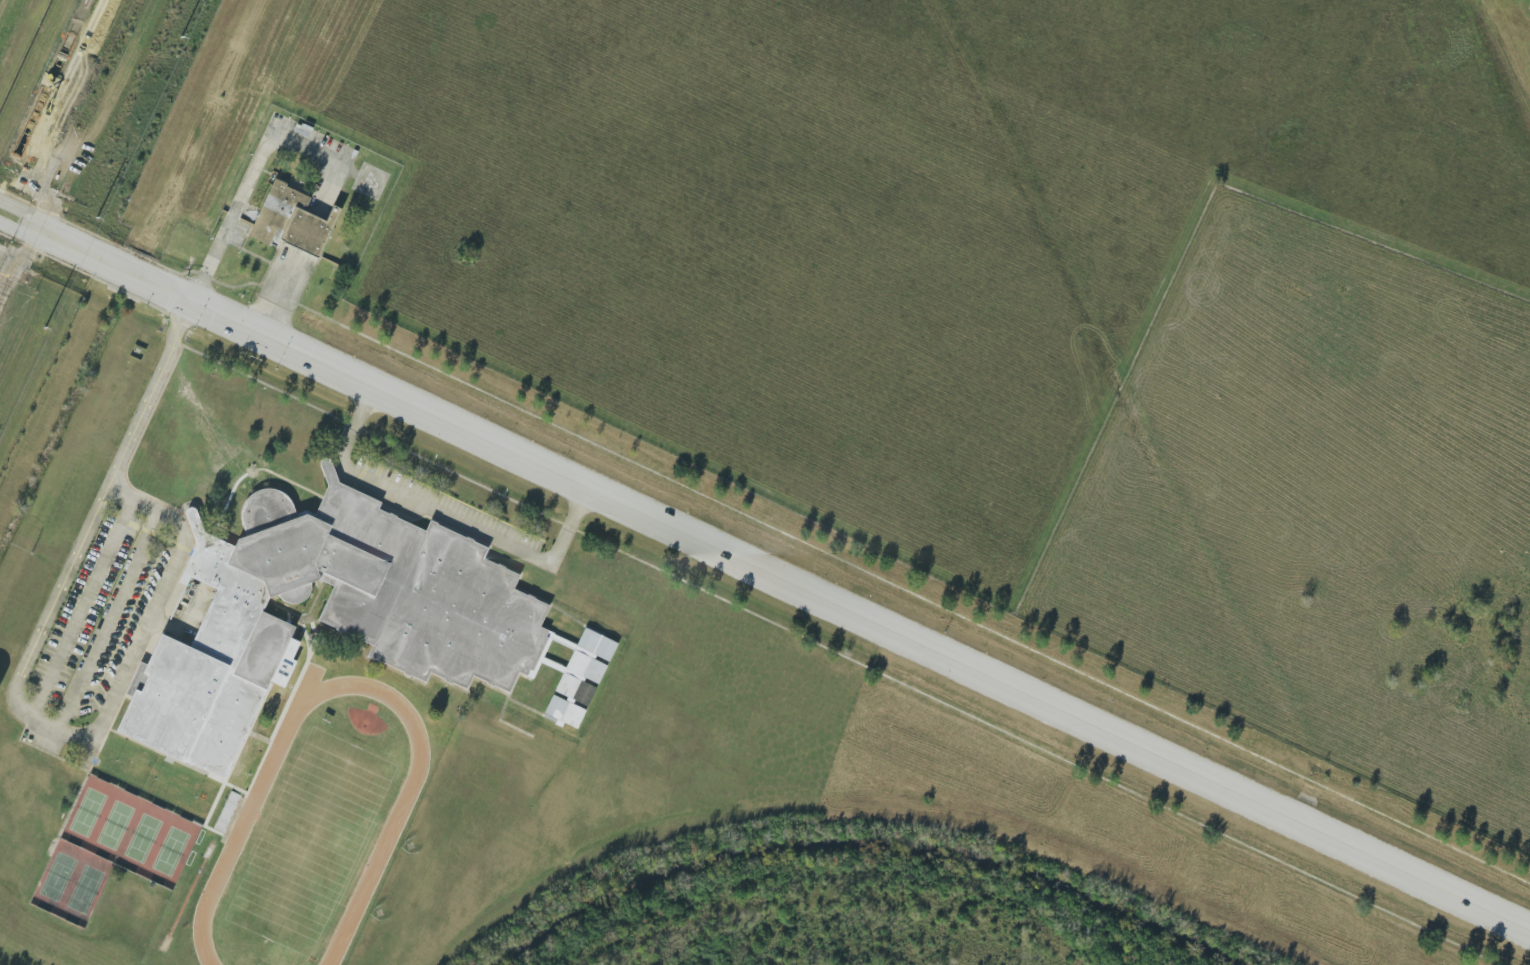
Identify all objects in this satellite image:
parking lot: (312, 143)
road: (262, 160)
helipad: (373, 181)
road: (20, 219)
building: (292, 222)
road: (20, 224)
road: (152, 282)
road: (281, 292)
road: (254, 474)
parking lot: (453, 509)
road: (447, 517)
road: (503, 562)
road: (318, 602)
road: (83, 608)
building: (329, 616)
road: (108, 619)
parking lot: (102, 620)
road: (895, 635)
building: (599, 644)
road: (575, 647)
building: (588, 667)
road: (564, 670)
road: (416, 681)
building: (577, 689)
road: (17, 691)
building: (566, 710)
road: (257, 723)
road: (108, 733)
road: (263, 738)
road: (180, 763)
road: (125, 789)
track: (398, 820)

